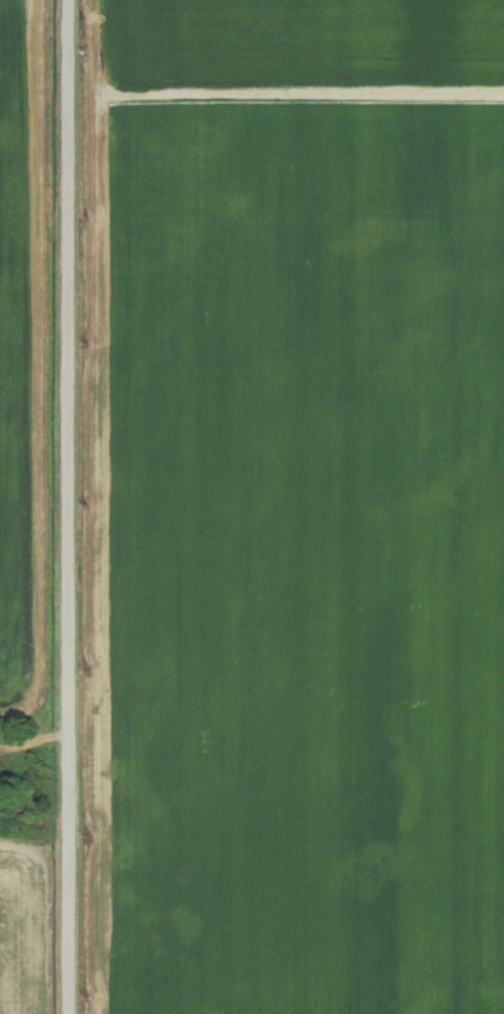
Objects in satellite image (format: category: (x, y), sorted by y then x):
road: (69, 507)

